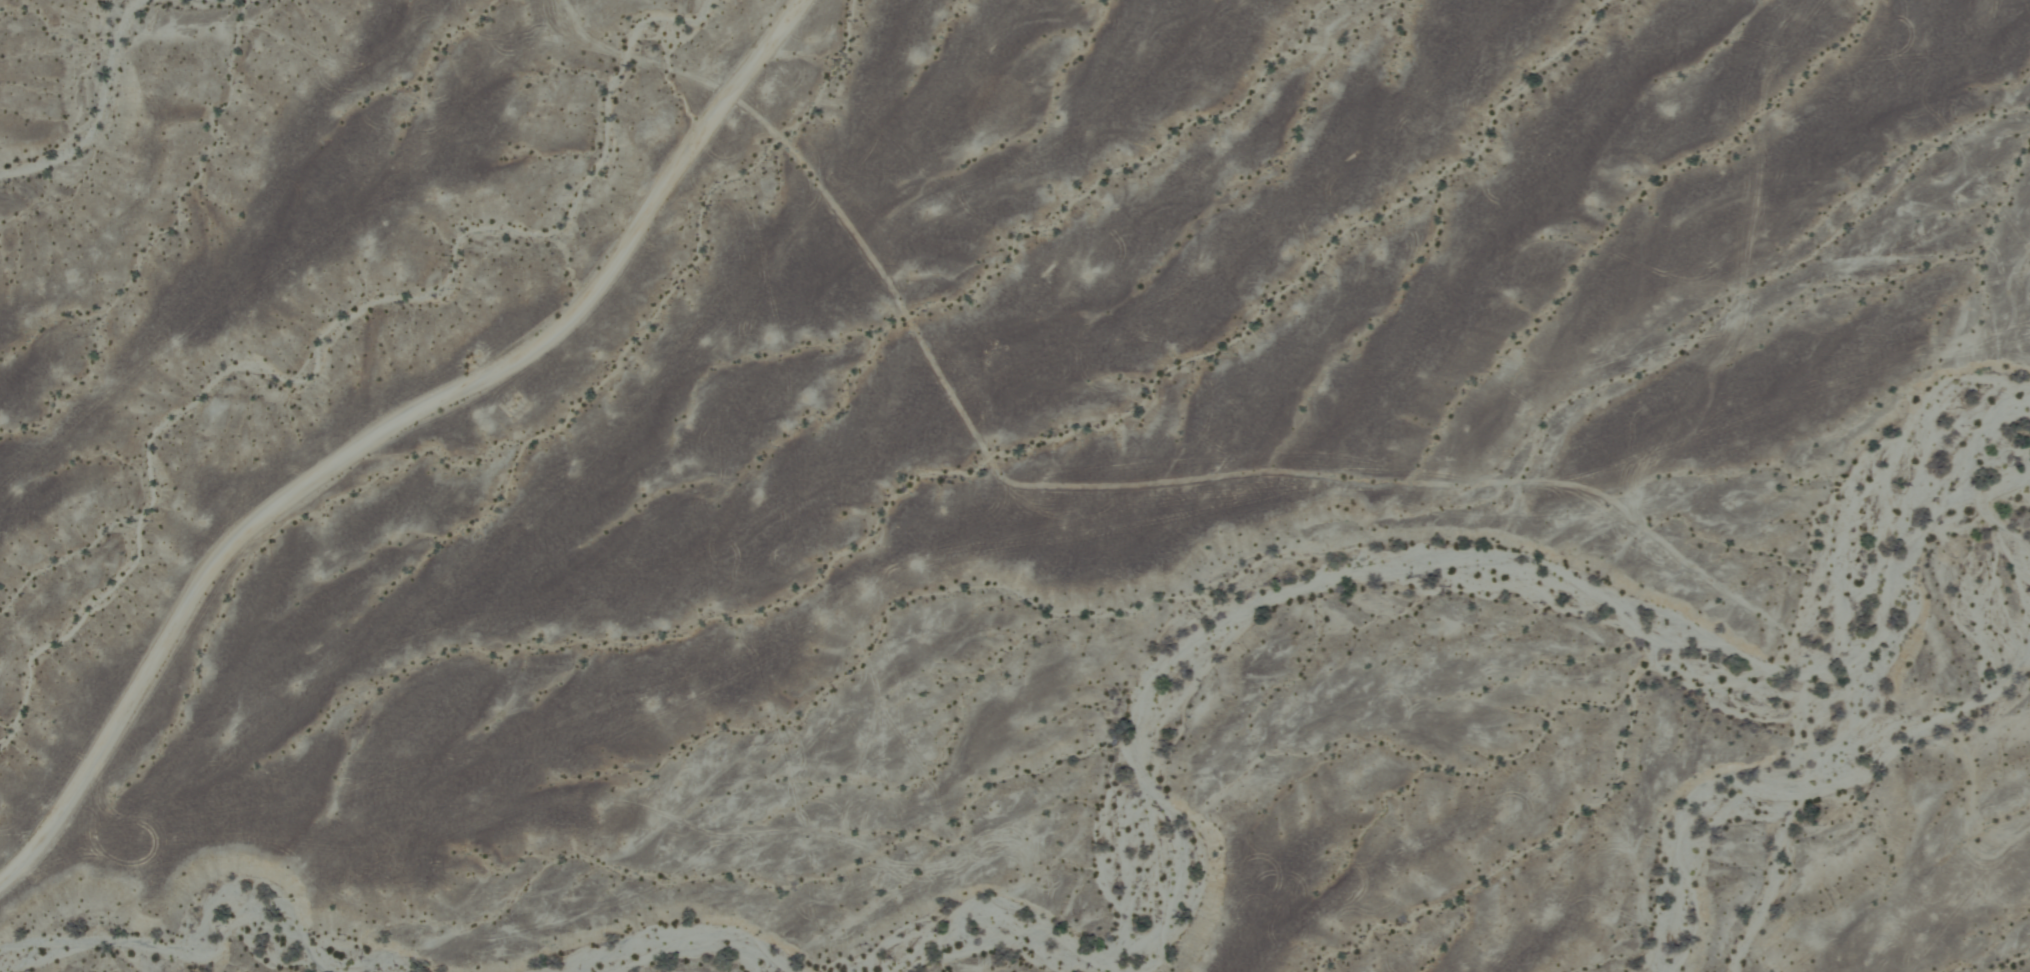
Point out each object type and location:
road: (793, 154)
road: (384, 425)
road: (1458, 483)

